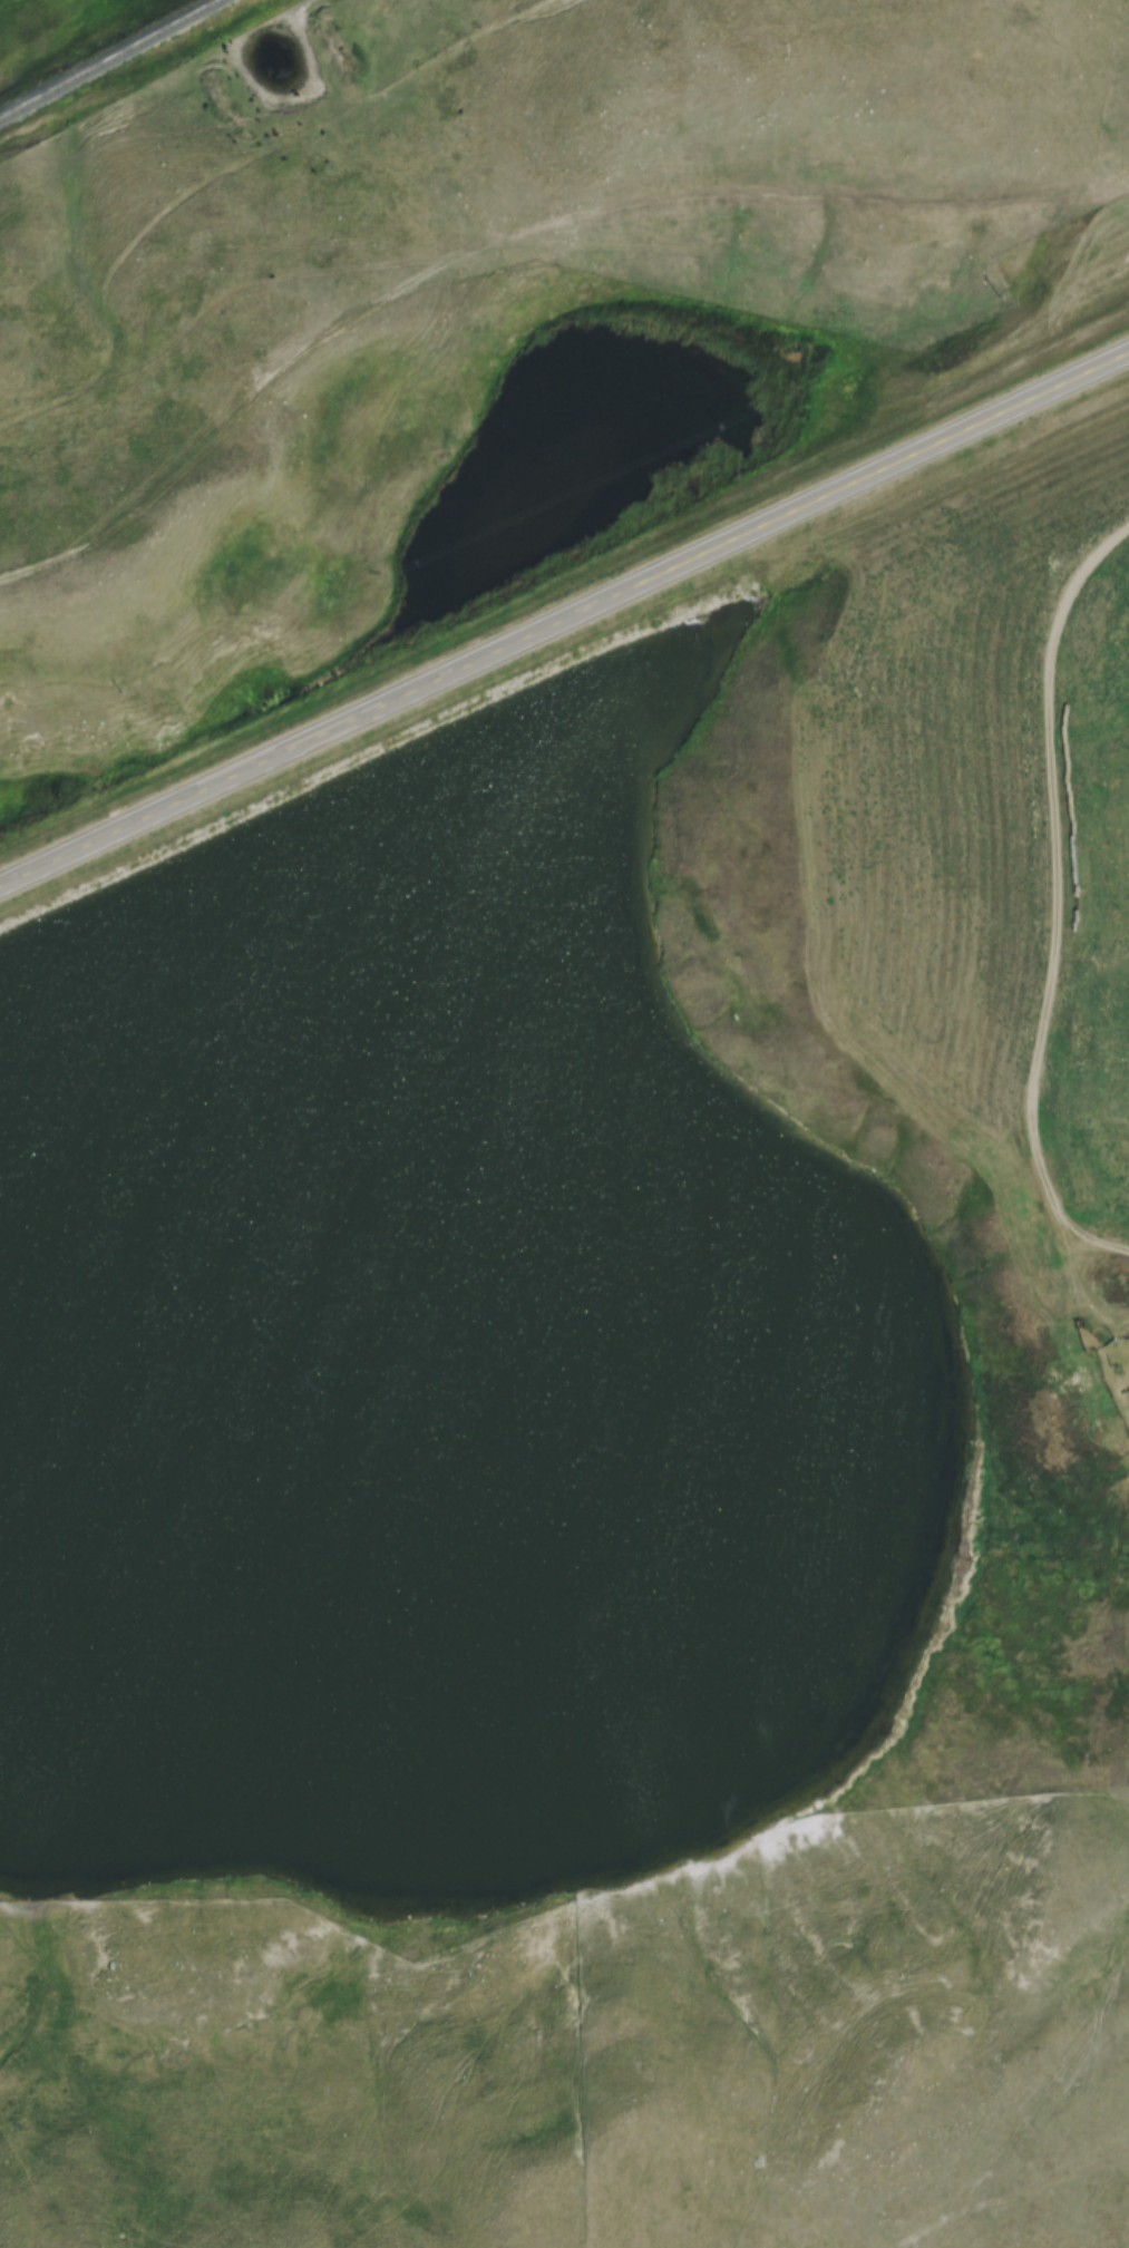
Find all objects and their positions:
railway: (130, 69)
road: (564, 623)
road: (1055, 898)
building: (1112, 1293)

